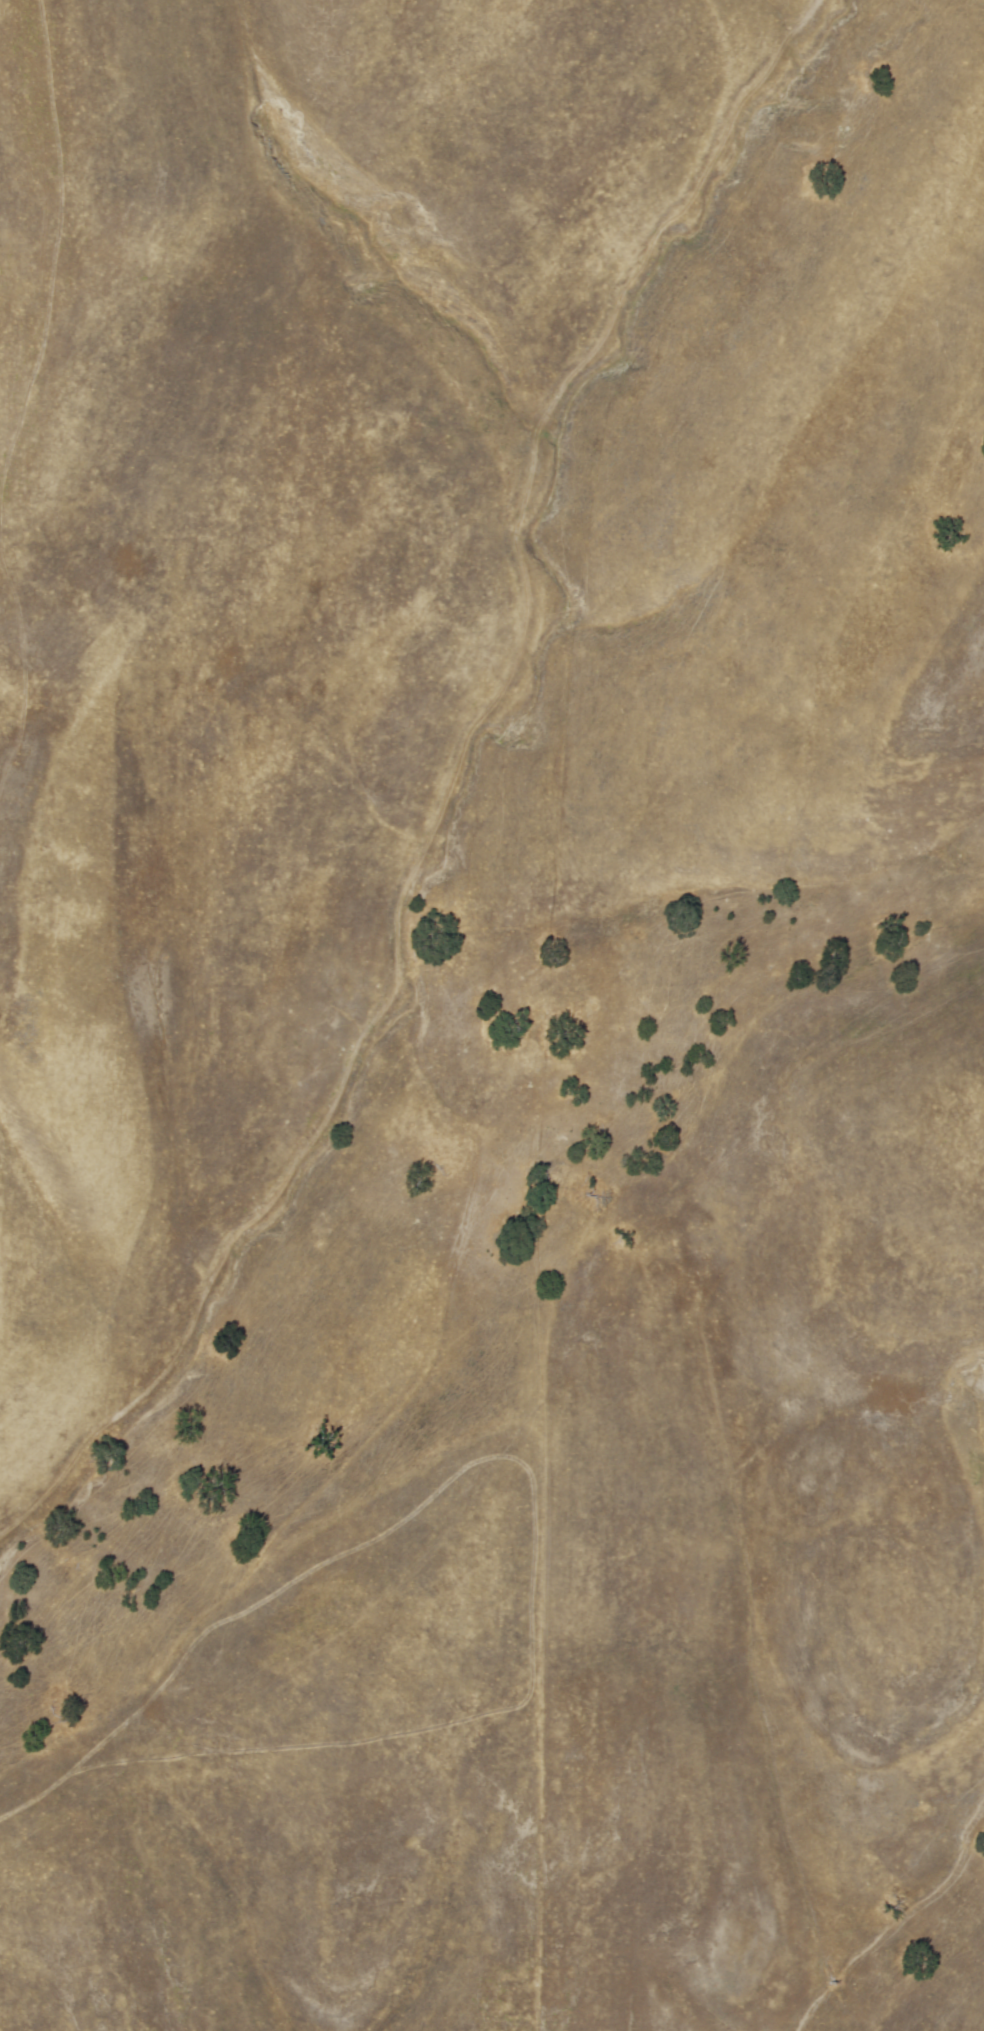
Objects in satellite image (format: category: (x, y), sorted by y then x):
road: (448, 785)

